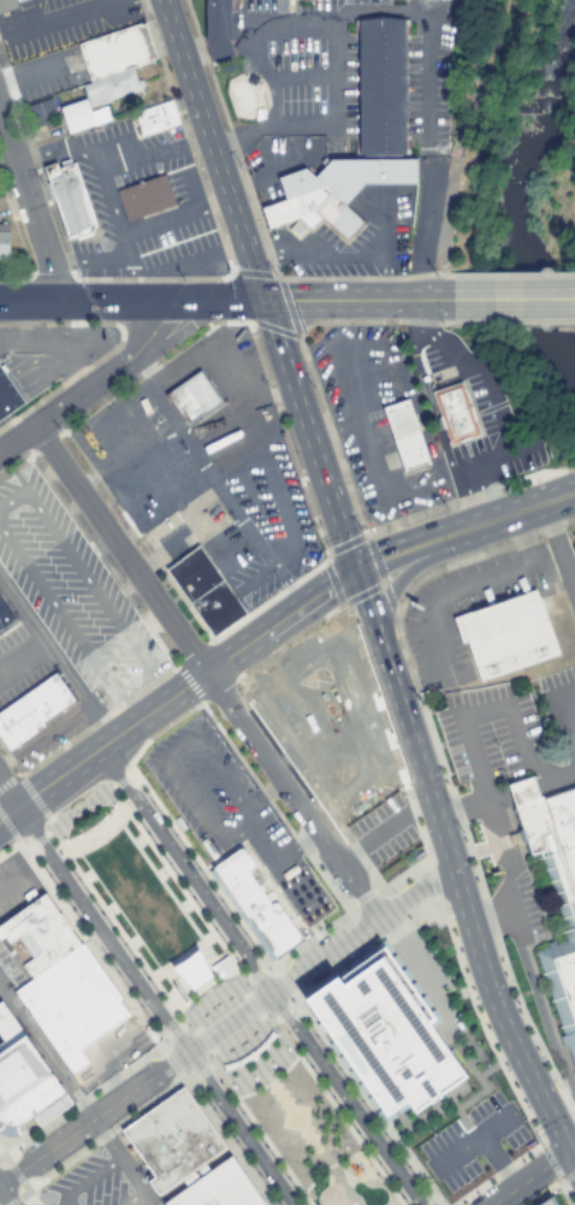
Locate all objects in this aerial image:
building: (6, 5)
building: (218, 29)
building: (117, 52)
building: (112, 87)
building: (381, 87)
building: (40, 111)
building: (82, 116)
building: (155, 117)
road: (212, 150)
building: (332, 193)
building: (144, 197)
river: (490, 199)
building: (69, 200)
road: (29, 217)
building: (4, 240)
road: (514, 299)
road: (226, 301)
traffic signals: (263, 301)
road: (91, 383)
building: (7, 396)
building: (192, 398)
building: (454, 412)
building: (404, 436)
road: (321, 475)
road: (515, 512)
road: (557, 545)
road: (118, 550)
traffic signals: (354, 572)
building: (192, 574)
road: (397, 580)
road: (574, 589)
road: (447, 595)
building: (217, 608)
building: (6, 616)
building: (505, 634)
road: (220, 662)
road: (416, 678)
building: (306, 696)
road: (344, 697)
building: (31, 710)
street lamp: (197, 710)
road: (567, 717)
parking lot: (326, 721)
road: (473, 752)
road: (165, 760)
road: (286, 760)
street lamp: (129, 772)
street lamp: (445, 784)
road: (261, 793)
road: (7, 796)
road: (291, 796)
street lamp: (410, 797)
street lamp: (105, 805)
street lamp: (280, 805)
street lamp: (153, 807)
street lamp: (128, 808)
parking lot: (230, 811)
road: (463, 811)
street lamp: (79, 814)
street lamp: (66, 829)
parking lot: (383, 831)
road: (381, 832)
street lamp: (147, 834)
street lamp: (177, 840)
road: (262, 841)
street lamp: (24, 844)
road: (296, 845)
street lamp: (428, 852)
street lamp: (60, 855)
road: (348, 855)
street lamp: (171, 868)
street lamp: (200, 873)
street lamp: (49, 879)
street lamp: (475, 881)
street lamp: (79, 882)
road: (12, 884)
building: (552, 885)
parking lot: (16, 886)
road: (295, 886)
street lamp: (392, 893)
street lamp: (192, 899)
building: (255, 903)
street lamp: (223, 905)
street lamp: (73, 912)
road: (466, 914)
street lamp: (103, 916)
road: (490, 918)
street lamp: (407, 920)
street lamp: (342, 922)
street lamp: (415, 928)
street lamp: (215, 933)
building: (37, 935)
street lamp: (245, 939)
street lamp: (308, 944)
street lamp: (126, 949)
street lamp: (101, 952)
street lamp: (458, 952)
street lamp: (235, 961)
parking lot: (12, 967)
building: (223, 967)
building: (192, 970)
street lamp: (268, 971)
street lamp: (283, 971)
street lamp: (225, 976)
street lamp: (504, 976)
street lamp: (119, 977)
road: (256, 977)
street lamp: (148, 981)
parking lot: (428, 982)
street lamp: (206, 986)
street lamp: (247, 988)
street lamp: (196, 994)
parking lot: (0, 1000)
park: (213, 1002)
street lamp: (290, 1003)
building: (73, 1005)
road: (155, 1005)
street lamp: (142, 1010)
street lamp: (518, 1014)
road: (223, 1016)
street lamp: (268, 1018)
road: (224, 1026)
street lamp: (189, 1029)
street lamp: (486, 1029)
building: (385, 1034)
street lamp: (289, 1036)
building: (267, 1039)
street lamp: (316, 1040)
street lamp: (166, 1045)
building: (256, 1050)
street lamp: (286, 1050)
street lamp: (538, 1050)
parking lot: (107, 1058)
street lamp: (211, 1059)
building: (244, 1059)
street lamp: (272, 1065)
building: (229, 1067)
street lamp: (504, 1067)
street lamp: (312, 1069)
street lamp: (338, 1071)
street lamp: (188, 1076)
building: (24, 1079)
street lamp: (254, 1080)
street lamp: (220, 1085)
street lamp: (232, 1088)
road: (76, 1095)
street lamp: (333, 1101)
street lamp: (523, 1104)
street lamp: (362, 1105)
street lamp: (215, 1116)
street lamp: (242, 1116)
fountain: (294, 1118)
road: (565, 1126)
street lamp: (357, 1134)
street lamp: (385, 1138)
road: (470, 1142)
parking lot: (473, 1142)
street lamp: (237, 1146)
road: (571, 1147)
street lamp: (263, 1148)
road: (0, 1151)
traffic signals: (568, 1151)
street lamp: (73, 1156)
building: (186, 1156)
road: (497, 1162)
street lamp: (521, 1162)
street lamp: (379, 1166)
street lamp: (408, 1171)
road: (528, 1177)
street lamp: (40, 1179)
road: (83, 1179)
street lamp: (261, 1180)
street lamp: (287, 1182)
street lamp: (333, 1183)
parking lot: (89, 1185)
street lamp: (351, 1189)
street lamp: (340, 1191)
street lamp: (476, 1193)
road: (5, 1197)
street lamp: (358, 1197)
road: (132, 1198)
street lamp: (402, 1198)
road: (31, 1199)
building: (546, 1201)
parking garage: (546, 1201)
street lamp: (346, 1203)

